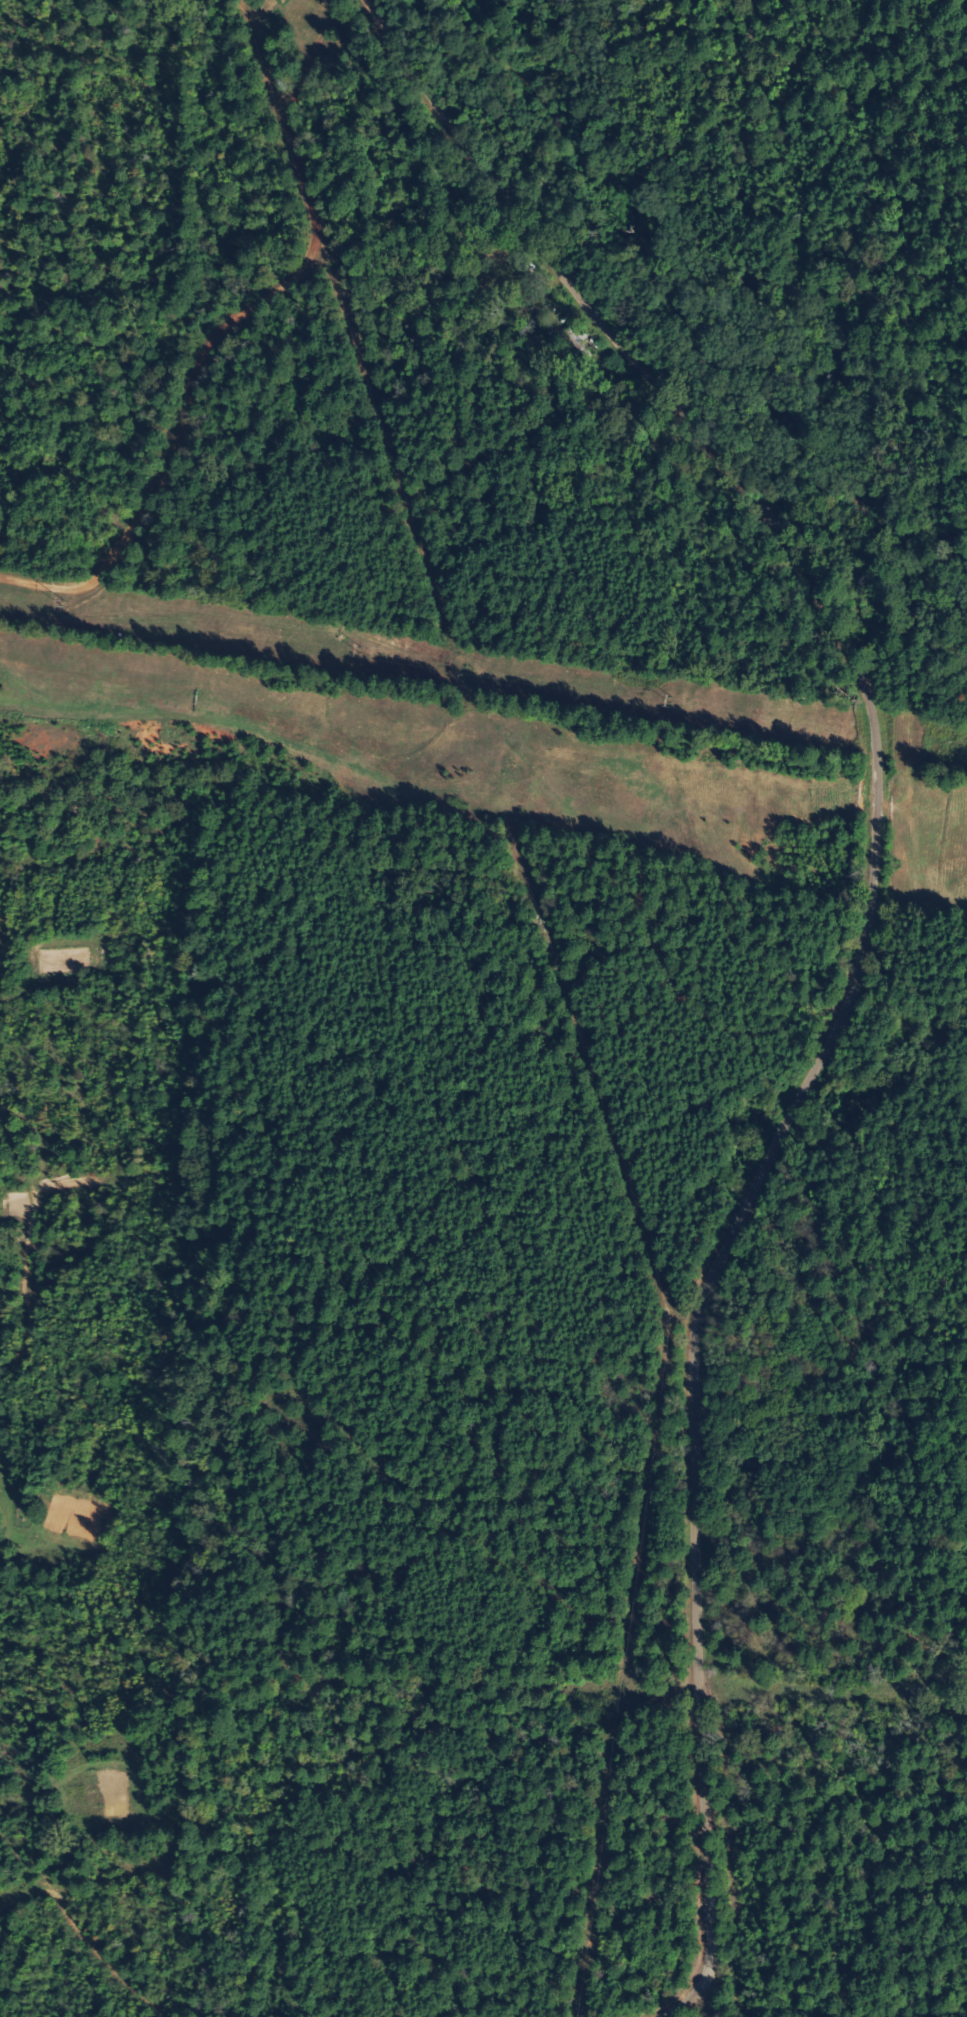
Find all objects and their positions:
road: (831, 932)
road: (83, 1925)

